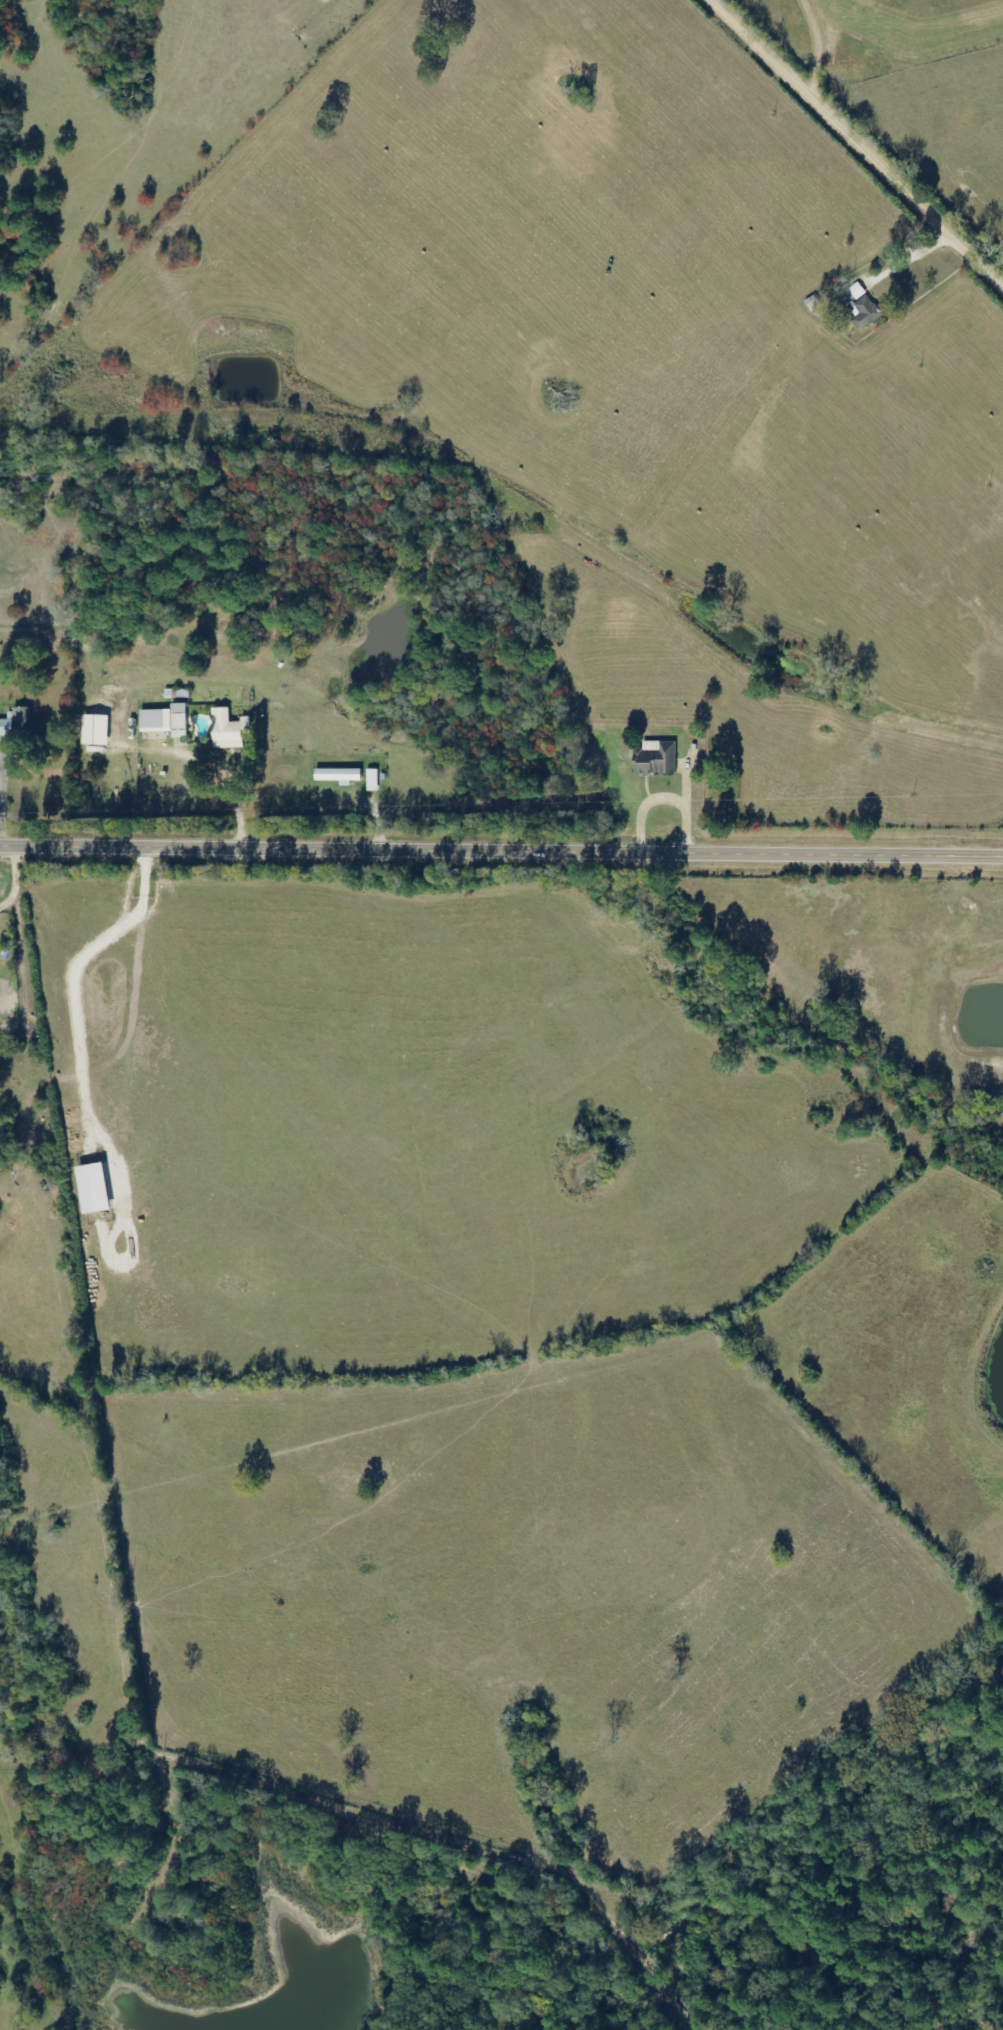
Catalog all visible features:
road: (849, 144)
building: (858, 291)
building: (867, 313)
building: (167, 720)
building: (23, 724)
building: (229, 729)
building: (97, 730)
building: (657, 758)
building: (340, 775)
building: (373, 780)
road: (501, 851)
building: (96, 1189)

